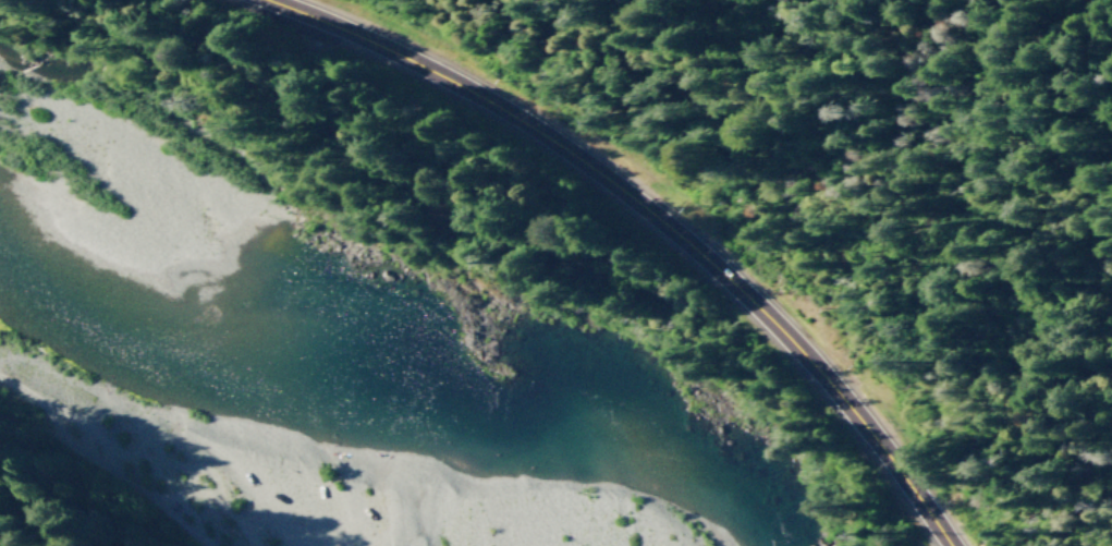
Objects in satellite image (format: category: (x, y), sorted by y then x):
road: (606, 178)
river: (382, 380)
road: (911, 492)

